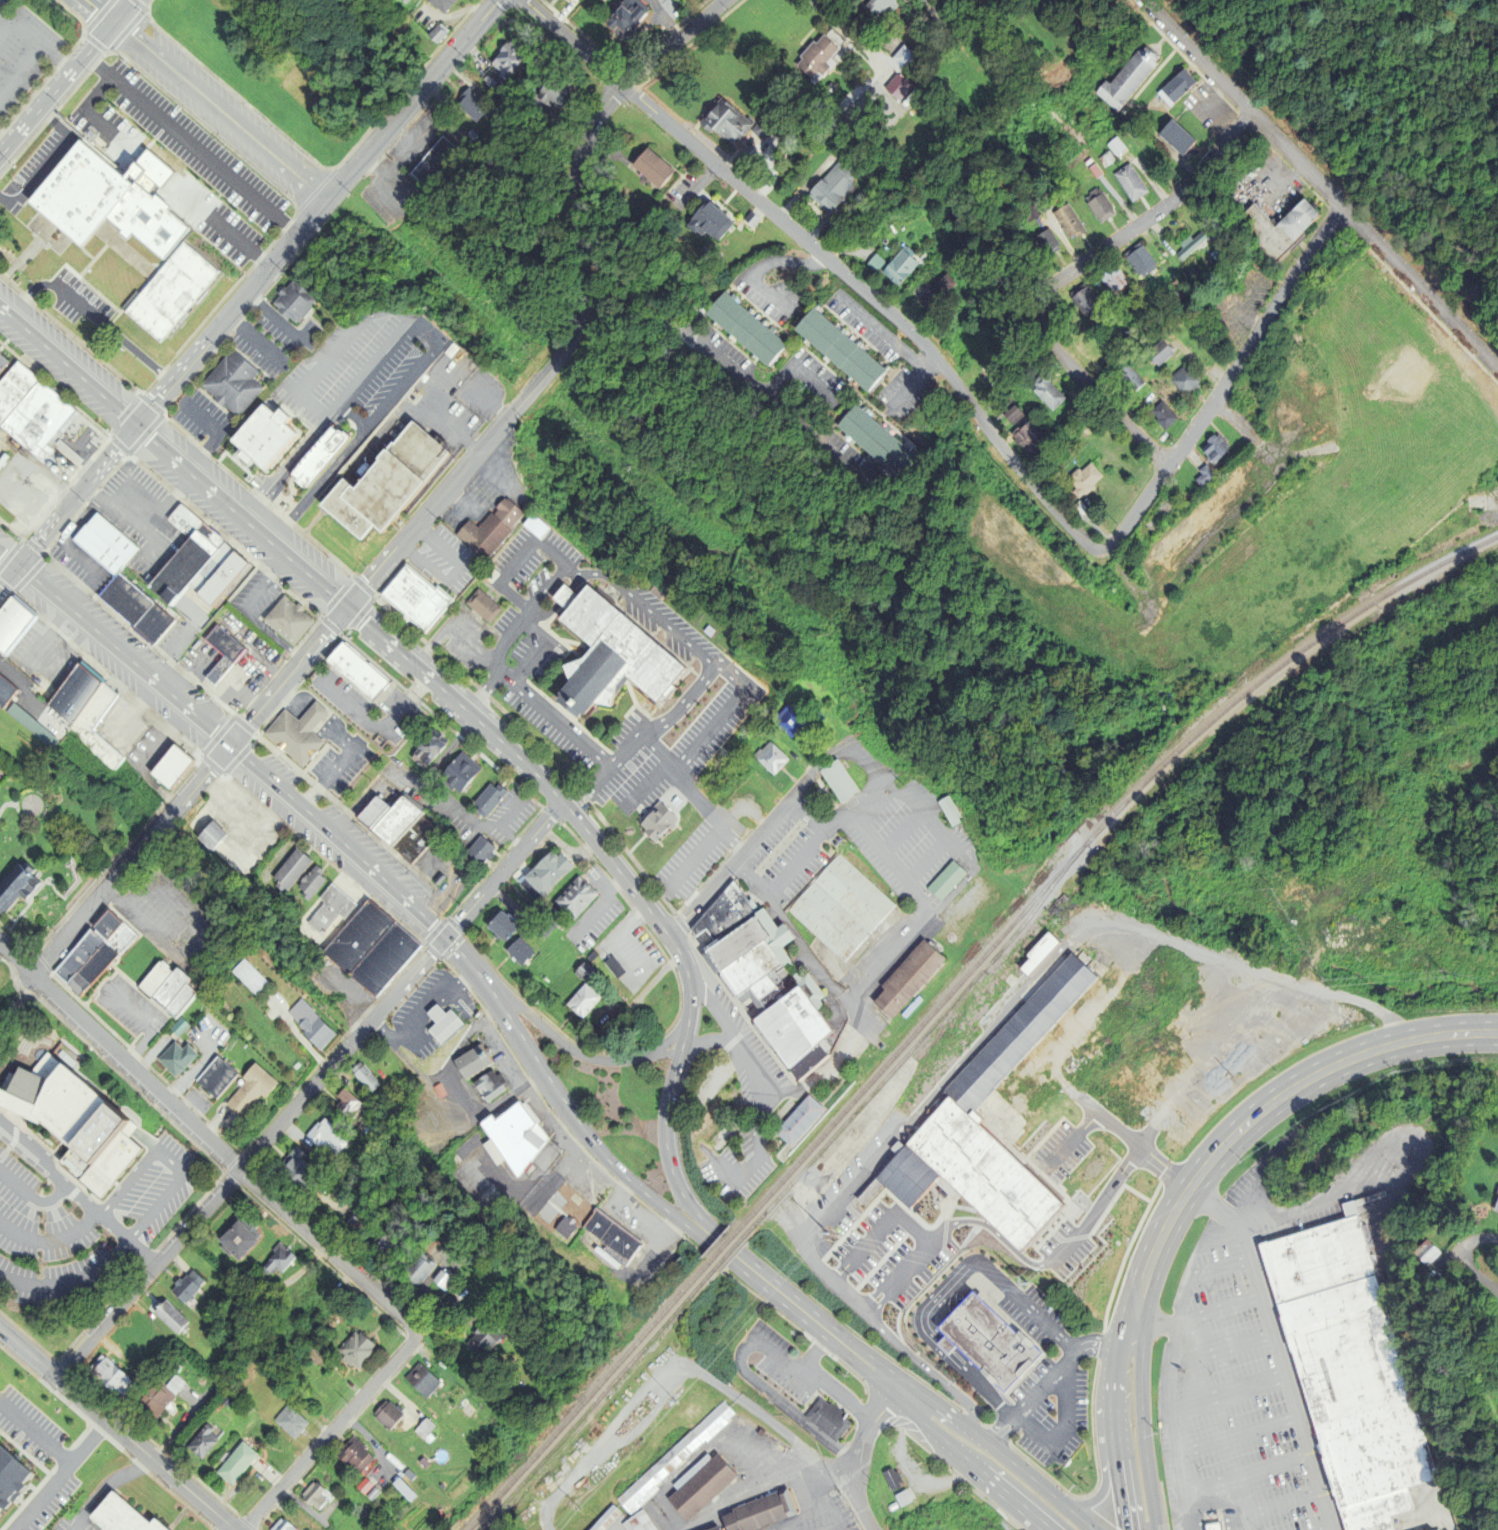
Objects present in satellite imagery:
parking lot: (1, 1)
building: (436, 5)
building: (878, 7)
building: (623, 18)
traffic signals: (112, 25)
road: (1, 30)
road: (847, 32)
building: (433, 34)
road: (670, 42)
road: (34, 43)
parking lot: (22, 54)
building: (507, 55)
building: (814, 56)
building: (901, 59)
road: (19, 68)
road: (66, 76)
building: (1126, 77)
building: (1174, 88)
building: (551, 89)
road: (410, 99)
road: (202, 100)
road: (1241, 103)
building: (468, 105)
building: (722, 123)
building: (1173, 138)
road: (190, 145)
road: (47, 161)
parking lot: (178, 162)
building: (429, 162)
parking lot: (37, 165)
building: (647, 166)
road: (158, 175)
building: (1127, 183)
building: (828, 187)
building: (106, 201)
building: (1096, 207)
road: (1148, 217)
building: (706, 220)
building: (1066, 223)
building: (1273, 229)
road: (108, 235)
building: (1043, 244)
building: (1137, 261)
road: (828, 262)
building: (895, 267)
building: (1111, 282)
road: (1418, 287)
road: (29, 290)
building: (170, 291)
road: (59, 293)
building: (930, 293)
building: (289, 300)
building: (1082, 302)
parking lot: (81, 307)
road: (80, 308)
road: (230, 312)
building: (742, 327)
building: (835, 348)
road: (136, 353)
building: (1155, 353)
building: (3, 365)
road: (546, 370)
road: (729, 373)
building: (1125, 375)
building: (230, 380)
building: (1181, 381)
road: (1220, 383)
road: (1095, 391)
building: (1042, 392)
building: (16, 394)
building: (1008, 413)
building: (1160, 415)
building: (40, 421)
road: (322, 423)
traffic signals: (136, 424)
road: (218, 434)
building: (1025, 436)
building: (263, 437)
building: (870, 439)
building: (1211, 446)
building: (318, 456)
building: (1201, 475)
building: (1081, 478)
building: (385, 483)
road: (77, 495)
building: (487, 522)
building: (533, 525)
building: (101, 533)
building: (183, 545)
building: (208, 562)
traffic signals: (18, 567)
road: (9, 577)
building: (221, 577)
building: (413, 590)
building: (125, 598)
building: (480, 604)
traffic signals: (344, 607)
road: (348, 610)
building: (10, 611)
building: (287, 612)
road: (653, 612)
building: (153, 623)
road: (453, 631)
building: (600, 644)
building: (221, 653)
building: (353, 662)
road: (287, 675)
building: (67, 682)
building: (5, 692)
building: (11, 711)
building: (88, 717)
road: (373, 718)
building: (785, 719)
road: (553, 720)
building: (294, 726)
road: (226, 740)
traffic signals: (230, 744)
building: (430, 749)
building: (765, 757)
building: (172, 767)
building: (460, 773)
building: (840, 782)
building: (489, 800)
road: (849, 806)
building: (950, 811)
building: (373, 812)
building: (199, 819)
building: (394, 819)
building: (654, 820)
road: (933, 823)
road: (901, 832)
building: (211, 839)
building: (416, 839)
railway: (1082, 843)
building: (480, 852)
parking lot: (696, 853)
road: (694, 854)
road: (736, 857)
road: (130, 858)
building: (244, 864)
building: (288, 868)
road: (501, 870)
building: (546, 876)
building: (948, 881)
building: (308, 882)
building: (14, 884)
building: (575, 899)
building: (327, 908)
building: (843, 909)
building: (546, 923)
building: (502, 927)
building: (358, 937)
traffic signals: (444, 937)
road: (453, 946)
road: (802, 946)
building: (520, 952)
building: (94, 954)
building: (384, 959)
road: (885, 962)
building: (616, 968)
building: (244, 970)
building: (585, 972)
building: (150, 979)
building: (765, 979)
building: (910, 979)
building: (165, 988)
road: (687, 993)
building: (176, 1000)
building: (583, 1003)
building: (439, 1013)
building: (309, 1021)
building: (174, 1026)
road: (730, 1034)
railway: (912, 1047)
building: (173, 1048)
road: (568, 1049)
road: (657, 1057)
building: (470, 1061)
building: (360, 1067)
building: (212, 1069)
building: (362, 1077)
building: (246, 1080)
building: (486, 1083)
building: (343, 1097)
building: (1007, 1102)
river: (1375, 1106)
building: (800, 1121)
road: (755, 1123)
building: (75, 1124)
road: (579, 1126)
building: (511, 1128)
building: (323, 1130)
road: (205, 1135)
road: (250, 1157)
road: (169, 1161)
building: (293, 1165)
road: (668, 1165)
road: (1191, 1187)
road: (31, 1196)
road: (78, 1196)
building: (1492, 1201)
building: (487, 1205)
building: (562, 1225)
building: (608, 1227)
building: (232, 1237)
road: (51, 1239)
road: (1484, 1239)
building: (385, 1248)
railway: (724, 1248)
building: (1421, 1251)
railway: (730, 1253)
building: (274, 1260)
road: (821, 1267)
road: (1218, 1268)
building: (414, 1269)
road: (1475, 1273)
building: (439, 1278)
road: (71, 1282)
building: (184, 1286)
road: (1022, 1301)
road: (1221, 1309)
building: (166, 1317)
road: (813, 1322)
parking lot: (1269, 1337)
building: (481, 1338)
building: (984, 1340)
road: (934, 1346)
road: (1230, 1347)
road: (1277, 1348)
building: (354, 1350)
river: (1238, 1350)
road: (1185, 1351)
building: (174, 1370)
building: (1352, 1372)
road: (1050, 1376)
building: (105, 1378)
building: (418, 1380)
building: (171, 1385)
road: (1232, 1391)
railway: (591, 1397)
building: (1497, 1398)
building: (226, 1399)
railway: (600, 1399)
building: (152, 1401)
road: (947, 1413)
building: (384, 1415)
building: (824, 1419)
building: (289, 1422)
building: (422, 1428)
road: (1064, 1429)
road: (117, 1430)
road: (332, 1430)
road: (35, 1434)
road: (1237, 1435)
building: (198, 1440)
building: (352, 1453)
road: (851, 1455)
building: (385, 1456)
building: (666, 1460)
road: (966, 1461)
building: (233, 1463)
building: (416, 1463)
road: (1179, 1467)
road: (1245, 1473)
building: (407, 1474)
road: (59, 1475)
building: (11, 1479)
road: (1107, 1479)
building: (889, 1480)
building: (695, 1485)
building: (362, 1486)
road: (108, 1489)
building: (401, 1490)
road: (1044, 1491)
building: (371, 1494)
building: (312, 1495)
building: (902, 1497)
road: (1277, 1505)
road: (1219, 1508)
building: (755, 1511)
building: (0, 1517)
building: (124, 1518)
building: (601, 1518)
road: (1014, 1518)
road: (1185, 1520)
building: (634, 1522)
building: (281, 1526)
building: (1214, 1527)
building: (711, 1528)

